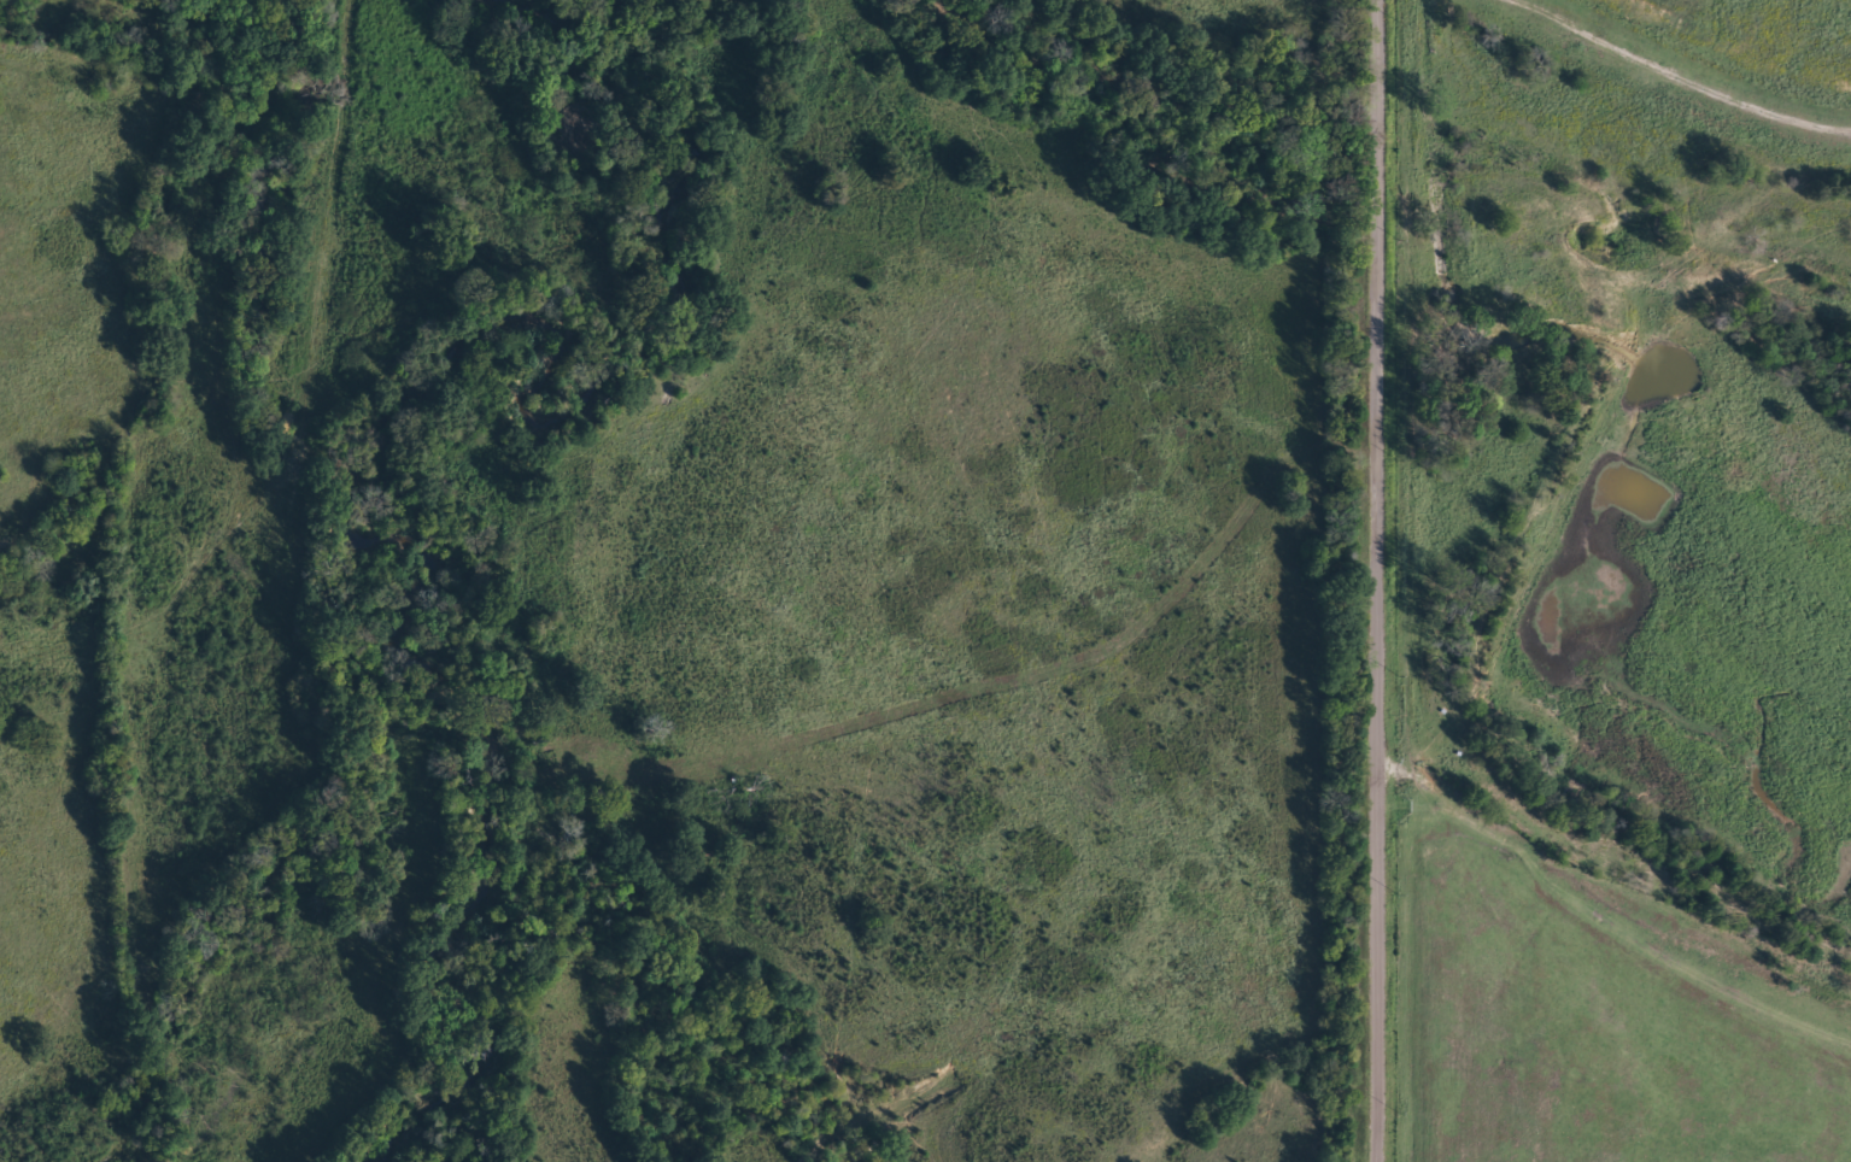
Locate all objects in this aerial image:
road: (1680, 54)
road: (1371, 580)
road: (1615, 928)

